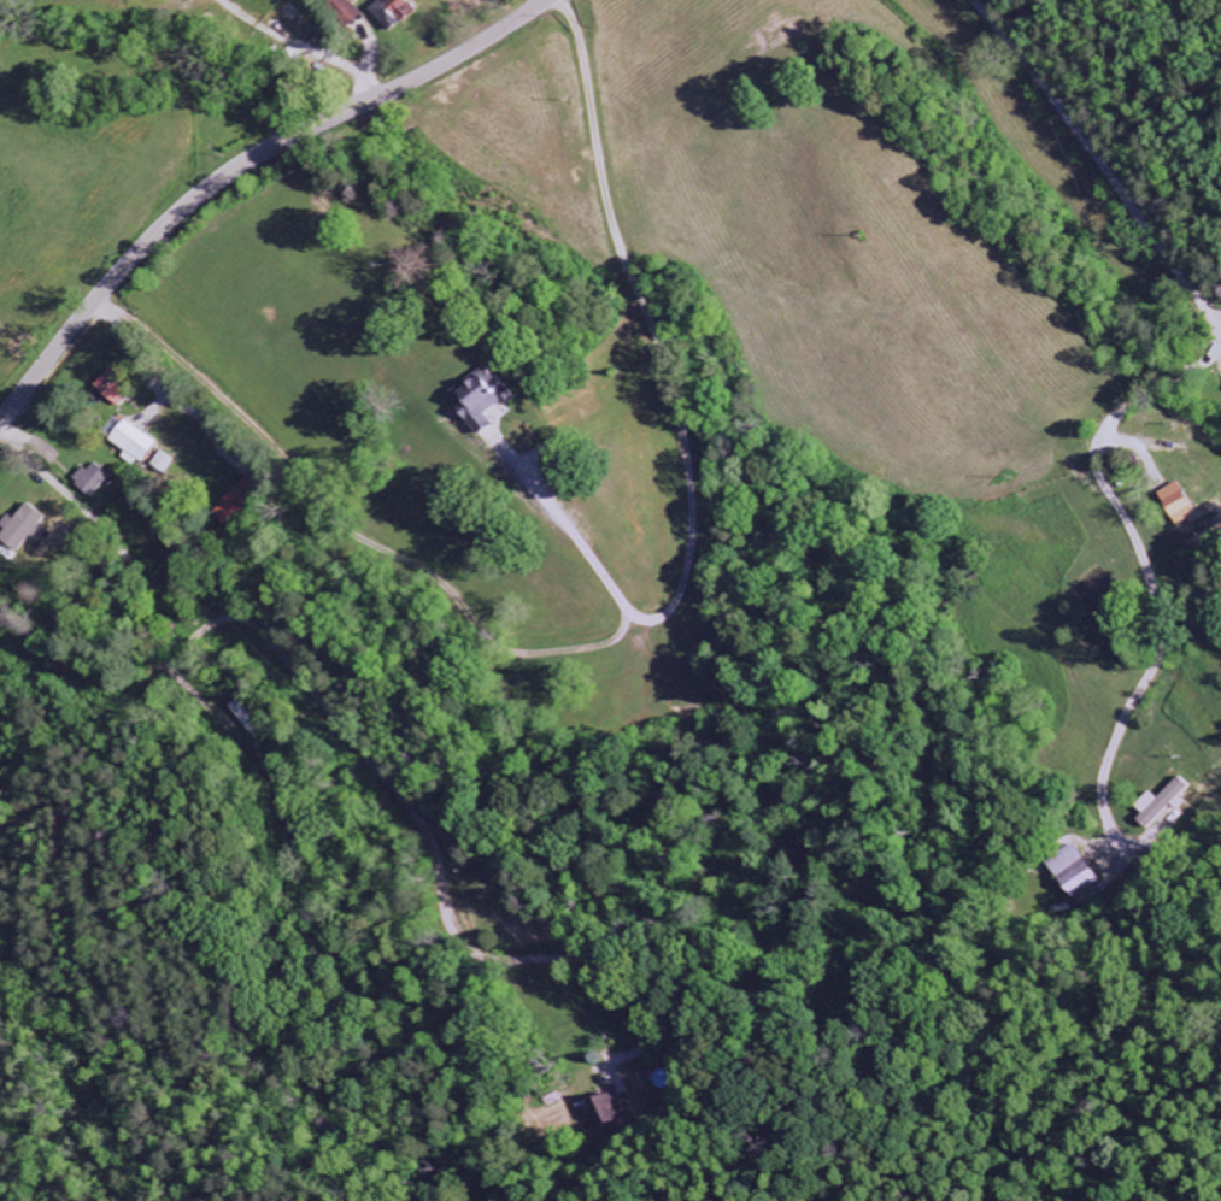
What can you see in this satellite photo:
building: (344, 11)
building: (391, 12)
road: (1097, 161)
road: (240, 166)
road: (669, 390)
building: (480, 401)
building: (129, 441)
road: (298, 473)
building: (89, 481)
building: (1179, 507)
road: (568, 517)
building: (19, 530)
road: (1144, 569)
road: (381, 776)
building: (1162, 803)
building: (1075, 873)
building: (605, 1112)

